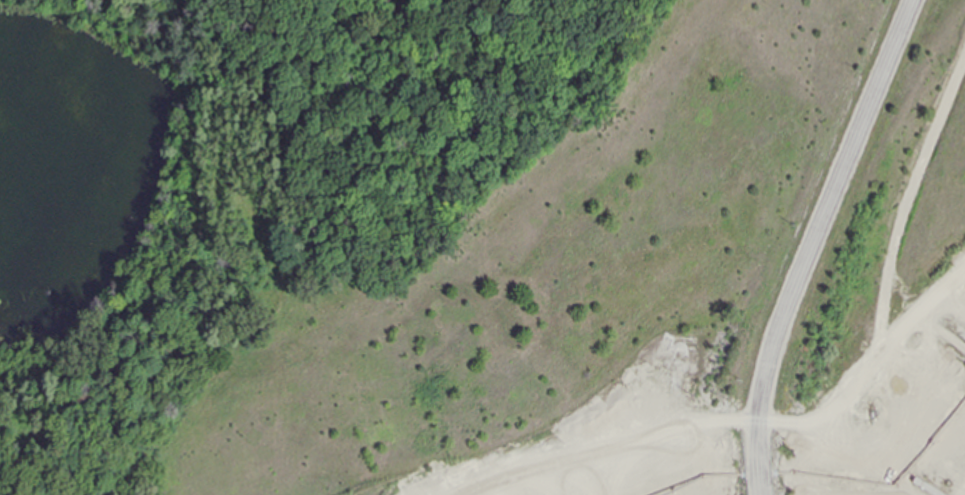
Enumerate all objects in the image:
road: (814, 241)
quarry: (579, 278)

